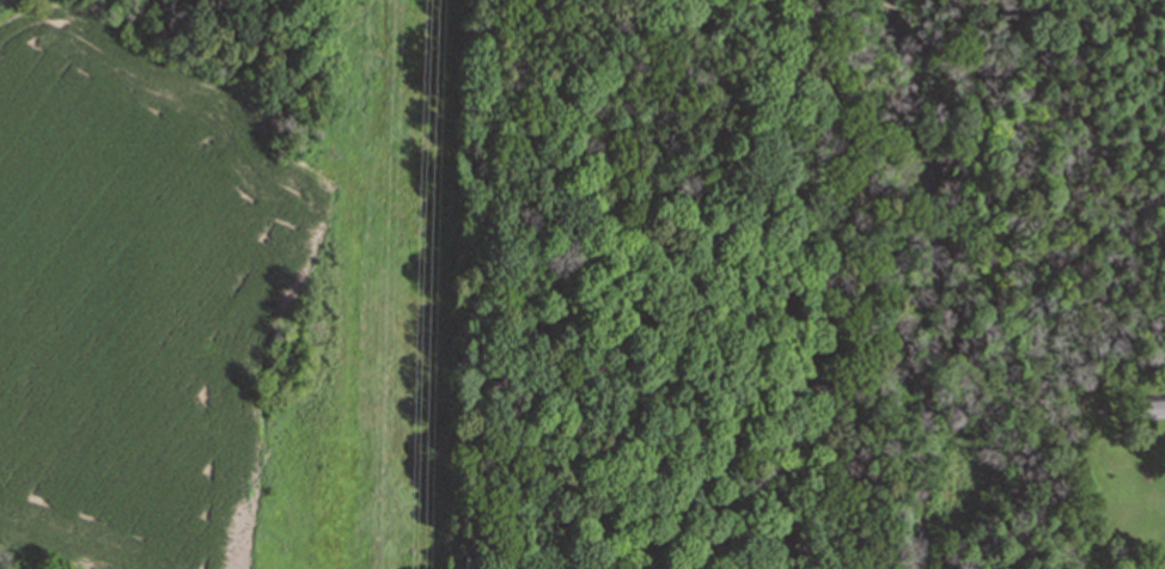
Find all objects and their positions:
road: (483, 284)
building: (1151, 406)

